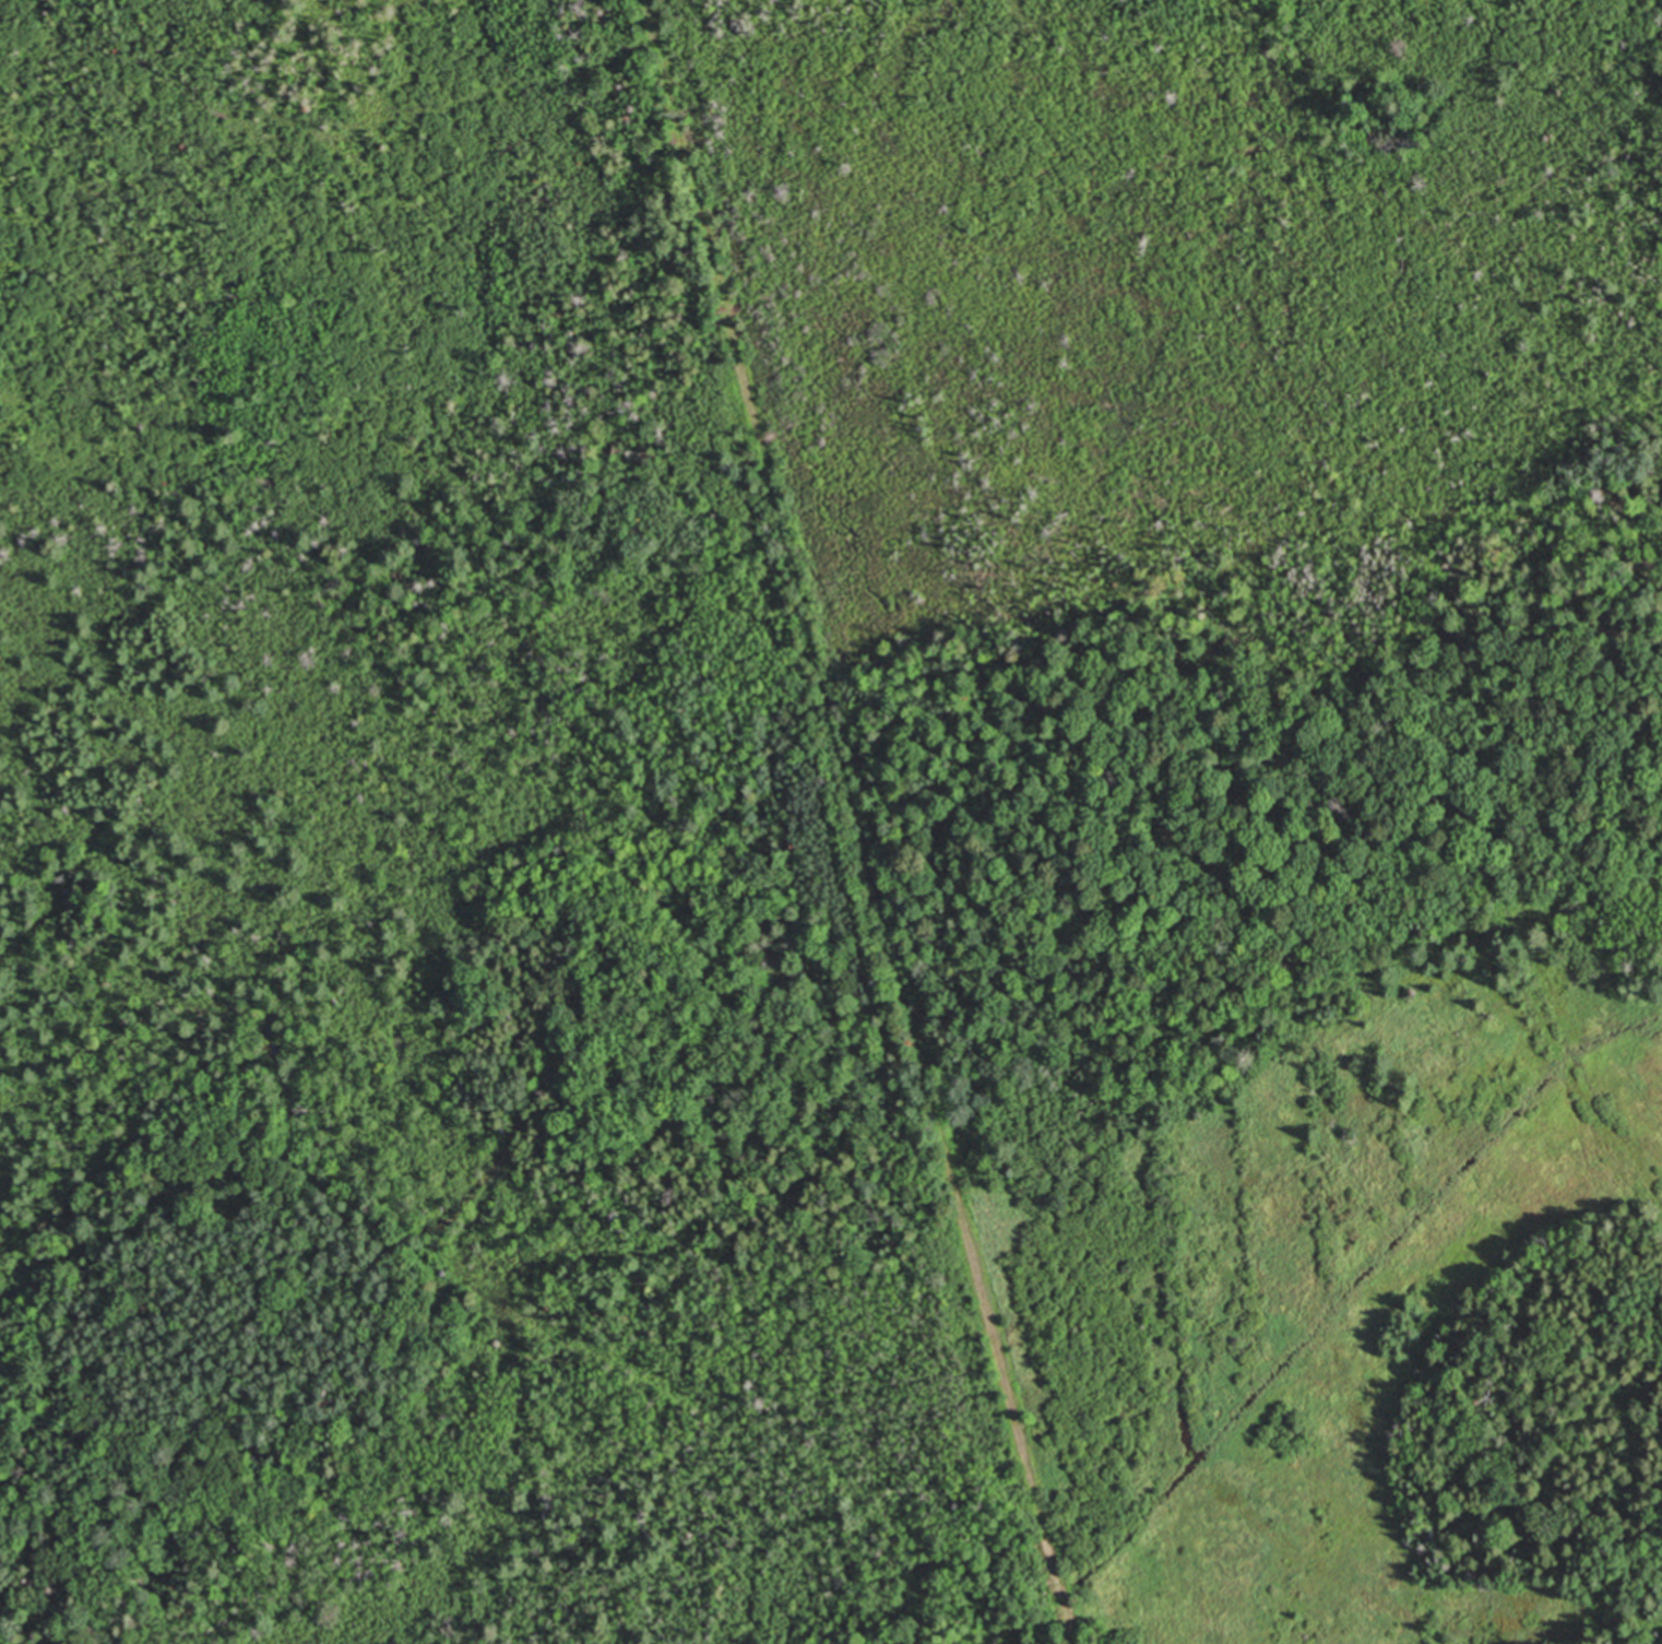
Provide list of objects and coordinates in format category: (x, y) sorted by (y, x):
road: (863, 820)

